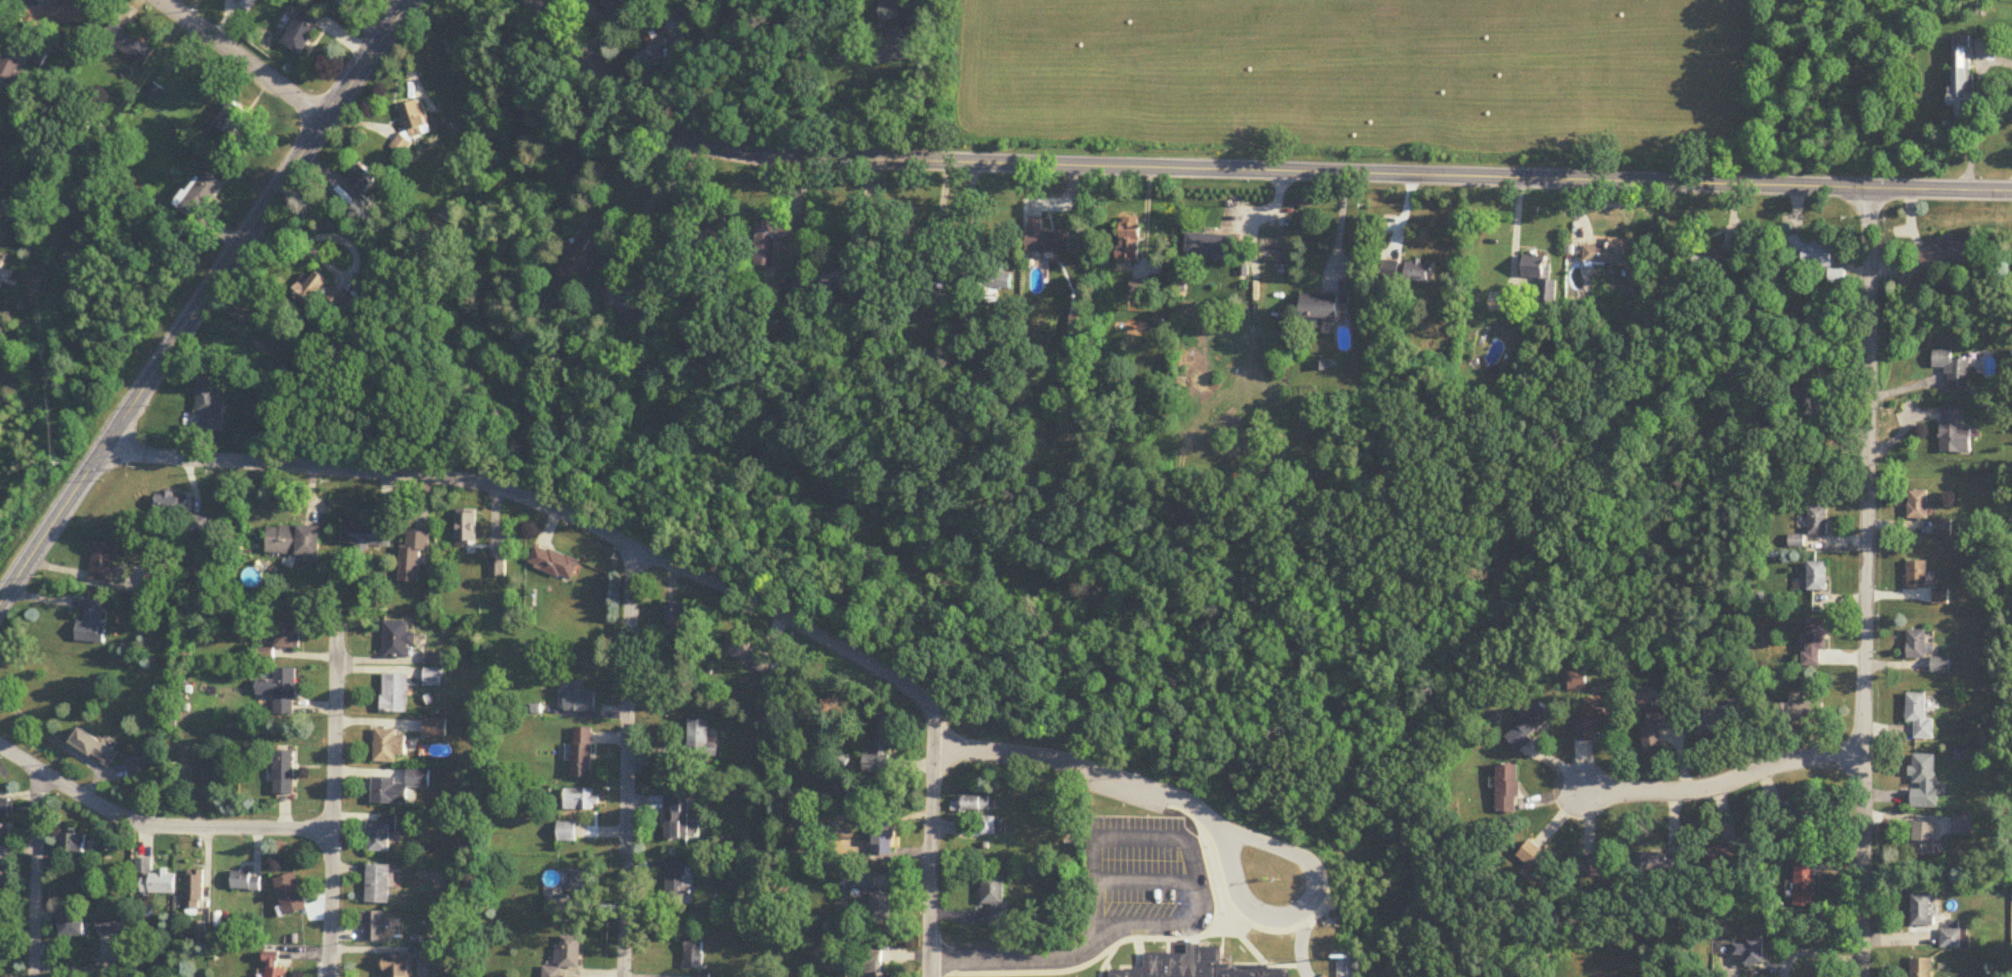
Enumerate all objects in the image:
building: (611, 3)
building: (55, 14)
building: (672, 23)
building: (304, 31)
building: (894, 38)
building: (129, 45)
building: (651, 58)
road: (247, 59)
building: (11, 73)
building: (1962, 80)
road: (931, 90)
building: (155, 94)
building: (1, 111)
road: (1979, 111)
building: (414, 116)
building: (232, 119)
building: (403, 144)
road: (1245, 170)
building: (199, 195)
road: (651, 204)
road: (1339, 229)
building: (720, 234)
building: (776, 235)
building: (1129, 239)
building: (1048, 242)
building: (1209, 244)
building: (1812, 251)
building: (1951, 252)
building: (1609, 253)
building: (584, 257)
building: (2, 263)
building: (893, 264)
building: (1716, 264)
building: (1419, 271)
road: (338, 273)
building: (1541, 279)
building: (837, 280)
building: (962, 285)
building: (996, 285)
building: (1137, 288)
building: (311, 289)
road: (203, 300)
building: (338, 301)
building: (1319, 307)
building: (637, 320)
building: (1952, 369)
building: (210, 404)
building: (1954, 432)
building: (168, 504)
road: (545, 505)
building: (1918, 505)
building: (1818, 521)
building: (466, 526)
building: (1943, 528)
building: (365, 537)
building: (293, 541)
building: (1797, 542)
building: (413, 557)
building: (555, 563)
building: (102, 564)
building: (1918, 575)
building: (1816, 578)
road: (1866, 583)
building: (1940, 597)
building: (676, 620)
building: (92, 623)
building: (288, 634)
building: (397, 641)
building: (1815, 642)
building: (1917, 645)
building: (747, 654)
building: (1941, 666)
building: (281, 691)
building: (396, 694)
building: (580, 699)
building: (1801, 713)
building: (1919, 717)
building: (1724, 718)
building: (1600, 722)
building: (1661, 723)
building: (1531, 726)
building: (435, 729)
building: (701, 741)
road: (61, 744)
building: (389, 746)
building: (882, 746)
building: (93, 747)
building: (583, 753)
road: (627, 761)
building: (138, 767)
building: (284, 773)
road: (1723, 782)
building: (1923, 782)
building: (398, 788)
building: (1508, 789)
road: (332, 797)
building: (581, 800)
building: (971, 804)
building: (6, 809)
building: (675, 817)
road: (1209, 818)
building: (1791, 819)
road: (156, 826)
building: (988, 827)
building: (566, 833)
building: (383, 834)
building: (5, 835)
building: (884, 840)
road: (1183, 840)
building: (1924, 840)
building: (73, 844)
road: (930, 849)
building: (1725, 858)
building: (1537, 859)
building: (1658, 864)
building: (1599, 866)
road: (32, 872)
building: (155, 880)
building: (245, 882)
building: (678, 884)
building: (1805, 884)
building: (378, 885)
building: (194, 891)
building: (569, 892)
building: (291, 895)
building: (995, 900)
building: (875, 906)
building: (1923, 911)
building: (113, 926)
building: (71, 927)
building: (376, 927)
building: (1952, 936)
building: (1742, 950)
building: (694, 954)
road: (1814, 955)
building: (567, 956)
road: (1018, 958)
building: (875, 965)
building: (274, 966)
building: (401, 966)
building: (1197, 966)
building: (1923, 968)

